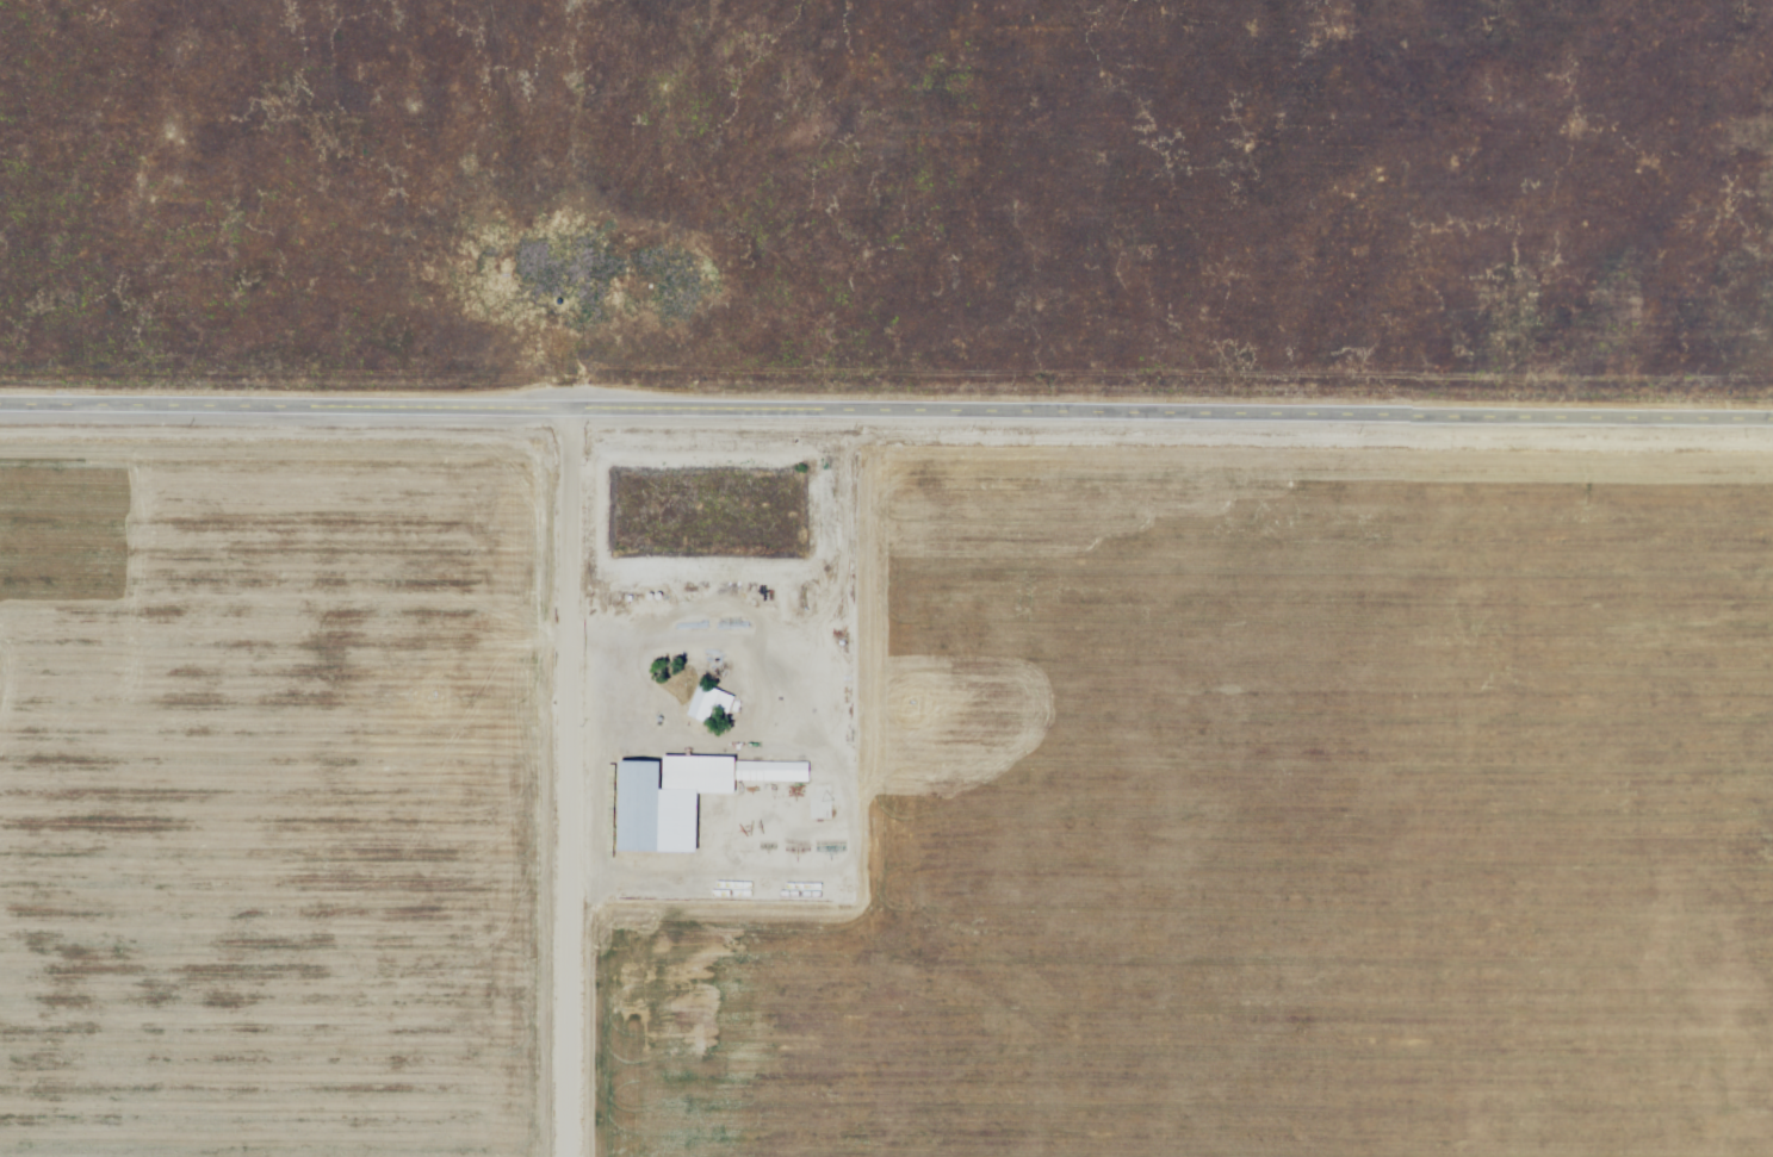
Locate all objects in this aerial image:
solar farm: (14, 6)
road: (886, 415)
wastewater plant: (708, 517)
building: (711, 709)
building: (775, 773)
building: (699, 776)
road: (569, 785)
building: (655, 816)

